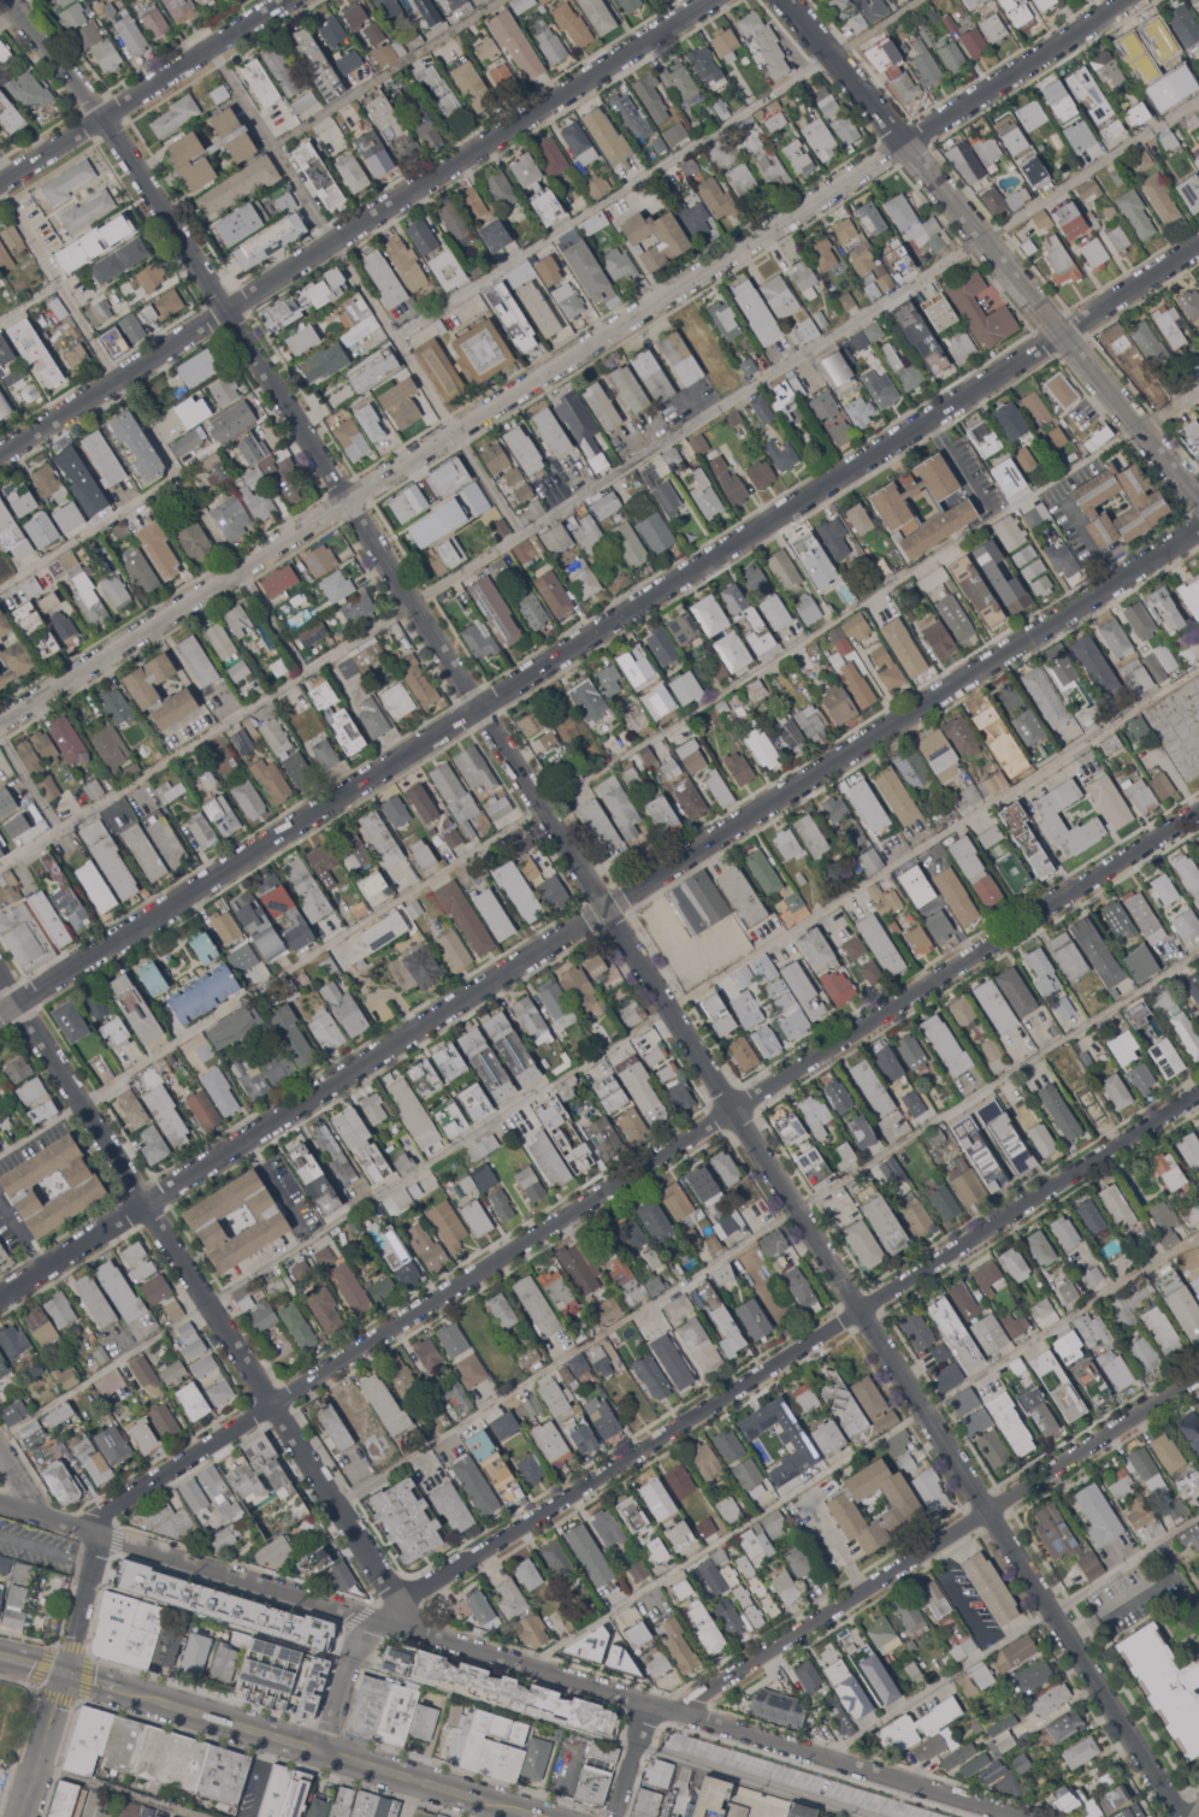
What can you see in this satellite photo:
building: (149, 0)
building: (541, 0)
building: (986, 0)
building: (206, 1)
building: (544, 1)
building: (858, 1)
building: (65, 2)
building: (418, 2)
building: (973, 2)
building: (1197, 2)
building: (631, 4)
building: (1046, 4)
building: (450, 5)
building: (520, 5)
building: (839, 5)
building: (469, 6)
building: (106, 8)
building: (182, 8)
building: (389, 8)
building: (876, 10)
road: (17, 11)
building: (1020, 12)
building: (355, 14)
building: (598, 14)
building: (72, 16)
building: (436, 18)
building: (154, 20)
building: (858, 22)
building: (950, 22)
building: (573, 24)
building: (1185, 25)
building: (994, 28)
building: (333, 30)
building: (131, 33)
building: (88, 34)
building: (465, 36)
building: (928, 36)
building: (1159, 37)
building: (974, 41)
building: (408, 42)
building: (515, 42)
building: (726, 42)
building: (766, 42)
building: (379, 45)
building: (551, 46)
building: (903, 47)
building: (485, 49)
building: (4, 52)
building: (107, 54)
building: (1133, 54)
building: (952, 55)
building: (745, 60)
building: (349, 61)
building: (317, 63)
building: (927, 64)
building: (1163, 64)
building: (1198, 64)
building: (707, 65)
building: (1106, 69)
building: (284, 70)
road: (384, 72)
building: (504, 78)
building: (680, 79)
building: (902, 81)
building: (260, 82)
building: (473, 85)
building: (1185, 85)
building: (26, 89)
road: (140, 89)
building: (438, 89)
building: (220, 93)
building: (1089, 94)
building: (651, 96)
building: (1061, 100)
building: (303, 101)
building: (1158, 101)
building: (720, 105)
building: (829, 105)
building: (708, 108)
building: (767, 110)
building: (417, 112)
building: (1198, 112)
building: (1032, 114)
building: (8, 116)
building: (176, 116)
building: (1136, 116)
building: (630, 117)
building: (1192, 119)
building: (774, 123)
building: (696, 124)
building: (390, 125)
building: (845, 128)
building: (674, 132)
building: (1106, 132)
building: (817, 135)
building: (1012, 136)
building: (608, 137)
building: (1082, 138)
building: (1166, 138)
building: (660, 143)
building: (579, 144)
building: (986, 147)
building: (209, 148)
building: (723, 151)
building: (761, 152)
building: (743, 153)
building: (373, 155)
building: (551, 157)
building: (797, 157)
building: (1144, 159)
building: (1198, 159)
building: (967, 161)
building: (689, 165)
road: (657, 169)
building: (526, 170)
building: (1034, 171)
building: (352, 172)
building: (317, 173)
building: (1120, 175)
building: (662, 177)
building: (742, 179)
building: (69, 181)
building: (238, 184)
building: (598, 185)
building: (501, 188)
building: (1088, 189)
building: (1191, 191)
building: (719, 197)
building: (1017, 197)
building: (1160, 197)
building: (994, 200)
building: (285, 201)
building: (473, 201)
building: (547, 206)
building: (87, 211)
building: (1110, 212)
building: (1135, 212)
building: (872, 217)
building: (453, 218)
building: (693, 218)
building: (240, 219)
building: (1043, 219)
building: (1069, 219)
building: (1093, 219)
building: (593, 222)
building: (915, 223)
building: (844, 229)
road: (359, 230)
building: (423, 236)
building: (496, 236)
building: (946, 237)
building: (13, 238)
building: (1118, 238)
building: (271, 240)
building: (674, 241)
building: (1029, 246)
road: (992, 249)
building: (81, 250)
building: (823, 253)
building: (1094, 253)
building: (5, 256)
building: (863, 259)
building: (119, 260)
building: (1061, 261)
building: (406, 262)
building: (900, 262)
building: (620, 264)
building: (476, 265)
building: (448, 269)
building: (548, 269)
building: (587, 270)
building: (519, 273)
building: (152, 276)
building: (884, 277)
building: (385, 278)
building: (804, 278)
road: (365, 289)
building: (873, 290)
building: (435, 291)
building: (858, 295)
building: (780, 296)
building: (494, 299)
building: (569, 299)
building: (14, 300)
building: (302, 300)
road: (30, 301)
building: (846, 301)
building: (1191, 303)
building: (163, 306)
building: (60, 308)
building: (539, 308)
building: (358, 309)
building: (939, 311)
building: (981, 311)
building: (99, 312)
building: (757, 312)
building: (821, 318)
building: (727, 321)
building: (1170, 323)
building: (441, 326)
building: (132, 328)
building: (805, 330)
building: (518, 331)
building: (874, 331)
building: (795, 335)
building: (302, 337)
building: (116, 341)
building: (862, 341)
building: (961, 344)
building: (1151, 344)
building: (35, 350)
building: (337, 350)
building: (1124, 353)
building: (77, 354)
building: (782, 354)
building: (463, 358)
building: (681, 358)
building: (4, 360)
road: (563, 361)
building: (937, 361)
building: (749, 366)
building: (296, 367)
building: (902, 367)
building: (199, 368)
building: (837, 370)
building: (374, 372)
building: (1193, 372)
building: (652, 376)
building: (1175, 383)
building: (798, 385)
building: (881, 387)
building: (630, 388)
building: (1152, 388)
building: (782, 389)
building: (1063, 389)
building: (225, 390)
building: (401, 402)
building: (5, 405)
building: (602, 406)
building: (825, 406)
building: (1035, 406)
road: (1169, 407)
building: (763, 408)
building: (193, 411)
building: (784, 412)
building: (861, 412)
building: (734, 418)
building: (1064, 420)
building: (232, 421)
building: (370, 421)
building: (1010, 421)
building: (581, 427)
road: (149, 431)
building: (551, 431)
building: (841, 432)
building: (986, 433)
building: (1058, 437)
building: (1098, 437)
building: (1191, 437)
building: (353, 439)
building: (615, 439)
building: (187, 442)
building: (699, 444)
building: (135, 447)
building: (253, 448)
building: (524, 449)
building: (1083, 449)
building: (780, 452)
building: (1073, 455)
building: (673, 456)
building: (104, 458)
building: (495, 458)
building: (1026, 458)
road: (956, 462)
building: (268, 464)
building: (1047, 467)
building: (217, 468)
building: (761, 473)
building: (999, 473)
building: (513, 474)
building: (289, 479)
building: (728, 480)
building: (81, 482)
building: (49, 483)
road: (599, 483)
building: (662, 485)
building: (229, 488)
building: (211, 489)
building: (430, 489)
building: (524, 491)
building: (914, 491)
building: (175, 492)
building: (258, 494)
building: (707, 494)
building: (476, 496)
building: (20, 497)
building: (164, 503)
building: (463, 503)
building: (607, 505)
building: (1151, 506)
building: (583, 509)
building: (531, 511)
building: (67, 515)
building: (1036, 515)
building: (231, 517)
building: (860, 518)
building: (438, 523)
building: (501, 527)
building: (935, 527)
building: (42, 529)
building: (122, 530)
building: (657, 531)
building: (1010, 531)
building: (12, 532)
road: (89, 532)
building: (190, 535)
building: (590, 535)
building: (834, 536)
building: (557, 538)
building: (630, 543)
building: (537, 544)
road: (1088, 544)
building: (159, 548)
building: (525, 551)
building: (447, 555)
building: (1024, 555)
building: (320, 559)
building: (815, 559)
building: (1063, 560)
building: (64, 564)
building: (4, 565)
building: (498, 567)
building: (141, 568)
building: (1034, 568)
building: (785, 570)
building: (581, 576)
building: (933, 579)
building: (280, 580)
building: (757, 580)
building: (34, 585)
building: (338, 585)
building: (1043, 585)
building: (117, 590)
building: (975, 591)
building: (554, 592)
building: (1014, 592)
building: (88, 595)
building: (1191, 596)
building: (737, 597)
building: (49, 601)
building: (360, 607)
building: (531, 607)
building: (808, 608)
building: (1166, 608)
building: (495, 609)
building: (775, 610)
building: (711, 614)
building: (909, 614)
building: (28, 618)
building: (955, 618)
building: (240, 619)
building: (1140, 619)
building: (5, 624)
building: (65, 626)
road: (598, 626)
building: (857, 626)
building: (684, 627)
building: (313, 633)
building: (939, 637)
building: (1116, 637)
building: (480, 639)
building: (222, 641)
building: (46, 644)
building: (662, 644)
building: (408, 645)
building: (904, 647)
building: (731, 650)
building: (367, 655)
building: (1165, 656)
building: (14, 659)
building: (199, 660)
building: (1151, 661)
building: (633, 663)
building: (278, 666)
building: (349, 667)
building: (850, 668)
building: (888, 668)
building: (238, 669)
building: (720, 669)
building: (1063, 669)
building: (1099, 672)
building: (1136, 676)
building: (418, 679)
building: (609, 679)
building: (685, 686)
building: (144, 691)
building: (320, 691)
building: (1010, 696)
building: (1046, 697)
building: (587, 698)
building: (398, 701)
building: (839, 703)
building: (117, 706)
building: (722, 707)
building: (632, 708)
road: (1169, 712)
building: (1089, 714)
building: (374, 718)
building: (987, 720)
building: (533, 721)
building: (811, 721)
building: (1028, 726)
building: (1139, 726)
building: (348, 732)
building: (790, 733)
building: (962, 735)
building: (276, 736)
building: (67, 738)
building: (549, 739)
building: (243, 741)
building: (108, 743)
building: (1112, 743)
building: (762, 745)
building: (46, 747)
building: (1043, 750)
building: (143, 751)
building: (326, 753)
building: (939, 754)
building: (648, 755)
building: (692, 755)
building: (29, 756)
building: (1017, 762)
building: (911, 766)
building: (297, 767)
building: (476, 767)
building: (739, 767)
building: (132, 768)
building: (672, 768)
building: (632, 773)
building: (207, 778)
building: (272, 779)
road: (29, 781)
building: (992, 783)
building: (48, 785)
building: (1163, 785)
building: (94, 789)
building: (720, 789)
building: (171, 790)
road: (569, 790)
building: (897, 794)
building: (1140, 794)
building: (455, 795)
building: (691, 797)
building: (967, 797)
building: (249, 798)
building: (6, 801)
building: (424, 802)
building: (869, 804)
building: (619, 806)
building: (498, 807)
building: (837, 809)
building: (397, 812)
building: (946, 812)
building: (1118, 813)
building: (222, 814)
building: (663, 814)
building: (24, 820)
building: (448, 821)
building: (599, 825)
building: (202, 830)
building: (856, 833)
building: (811, 834)
building: (991, 836)
building: (382, 837)
building: (166, 838)
building: (454, 838)
building: (1026, 838)
building: (1, 839)
building: (0, 842)
building: (787, 843)
building: (521, 844)
building: (1198, 845)
building: (352, 848)
building: (2, 849)
building: (144, 851)
building: (421, 856)
building: (110, 859)
building: (323, 859)
building: (872, 860)
building: (528, 866)
building: (912, 869)
building: (764, 871)
building: (975, 871)
road: (1058, 871)
building: (1014, 872)
building: (1188, 873)
building: (840, 875)
building: (802, 878)
building: (373, 885)
building: (96, 886)
building: (8, 889)
building: (308, 889)
building: (1164, 889)
building: (61, 890)
building: (519, 890)
building: (553, 892)
building: (956, 896)
building: (742, 897)
building: (886, 899)
building: (795, 901)
building: (699, 902)
road: (602, 903)
building: (933, 903)
building: (0, 908)
building: (415, 908)
building: (360, 909)
road: (598, 909)
building: (285, 910)
building: (494, 914)
building: (465, 915)
building: (1144, 915)
building: (51, 918)
building: (1117, 919)
building: (1186, 924)
building: (226, 925)
building: (327, 925)
building: (939, 925)
building: (259, 926)
building: (894, 926)
building: (384, 930)
building: (25, 937)
building: (919, 940)
building: (202, 944)
building: (880, 944)
building: (454, 948)
building: (816, 948)
building: (854, 948)
building: (1098, 951)
building: (358, 955)
building: (1069, 955)
building: (238, 957)
building: (1141, 962)
building: (329, 966)
building: (424, 967)
building: (597, 967)
building: (764, 968)
building: (1044, 971)
building: (872, 972)
building: (748, 973)
building: (152, 977)
building: (740, 977)
building: (1193, 985)
building: (838, 986)
building: (291, 990)
building: (581, 990)
building: (803, 990)
building: (202, 991)
building: (1017, 991)
building: (1114, 993)
building: (1163, 1001)
building: (557, 1002)
building: (95, 1003)
building: (996, 1005)
building: (1064, 1005)
building: (135, 1008)
building: (785, 1008)
building: (347, 1009)
building: (746, 1009)
building: (962, 1010)
building: (631, 1013)
building: (719, 1014)
building: (247, 1017)
building: (1135, 1019)
building: (71, 1020)
building: (533, 1021)
building: (326, 1030)
building: (1056, 1030)
building: (117, 1032)
building: (224, 1032)
building: (1187, 1033)
building: (291, 1036)
building: (766, 1040)
building: (946, 1045)
building: (1123, 1046)
building: (512, 1048)
building: (992, 1048)
building: (205, 1050)
building: (911, 1051)
building: (744, 1052)
road: (601, 1055)
building: (656, 1055)
building: (1087, 1057)
building: (1166, 1057)
building: (450, 1061)
building: (488, 1063)
building: (888, 1063)
building: (163, 1066)
building: (279, 1066)
building: (18, 1070)
building: (667, 1072)
building: (1073, 1072)
building: (250, 1075)
building: (425, 1076)
building: (1141, 1078)
building: (1, 1085)
building: (567, 1086)
road: (70, 1087)
building: (873, 1087)
building: (642, 1089)
building: (220, 1090)
building: (31, 1091)
building: (1117, 1091)
building: (610, 1092)
building: (680, 1095)
building: (838, 1095)
building: (474, 1099)
building: (914, 1102)
building: (1092, 1103)
building: (132, 1107)
building: (373, 1107)
building: (203, 1108)
building: (42, 1110)
building: (1059, 1110)
building: (414, 1114)
building: (167, 1115)
building: (816, 1115)
building: (450, 1116)
building: (557, 1122)
building: (633, 1123)
building: (1198, 1125)
building: (790, 1126)
building: (862, 1131)
building: (1006, 1134)
building: (604, 1137)
building: (937, 1137)
building: (1040, 1138)
building: (361, 1143)
building: (154, 1144)
building: (484, 1146)
building: (1189, 1149)
building: (294, 1151)
building: (333, 1151)
building: (980, 1152)
building: (577, 1155)
building: (844, 1155)
building: (549, 1157)
building: (402, 1160)
building: (726, 1167)
building: (893, 1169)
building: (1168, 1169)
building: (825, 1170)
building: (485, 1176)
building: (311, 1178)
building: (967, 1181)
building: (467, 1182)
building: (531, 1182)
building: (1198, 1182)
building: (18, 1184)
building: (705, 1186)
building: (415, 1188)
building: (459, 1190)
building: (397, 1200)
building: (677, 1200)
building: (324, 1202)
building: (945, 1202)
building: (502, 1204)
road: (583, 1205)
building: (1118, 1207)
building: (1192, 1213)
building: (1091, 1215)
building: (1163, 1215)
building: (881, 1216)
building: (919, 1216)
building: (477, 1217)
building: (657, 1222)
road: (835, 1222)
building: (271, 1223)
building: (448, 1223)
building: (356, 1225)
road: (768, 1226)
building: (730, 1227)
building: (1065, 1232)
road: (20, 1233)
building: (636, 1234)
building: (693, 1238)
building: (1170, 1240)
building: (775, 1241)
building: (715, 1243)
building: (863, 1243)
building: (1040, 1247)
building: (429, 1249)
building: (2, 1252)
building: (135, 1252)
building: (326, 1255)
building: (1117, 1255)
building: (655, 1257)
building: (1016, 1263)
building: (403, 1267)
building: (581, 1268)
building: (143, 1269)
building: (302, 1269)
building: (722, 1274)
building: (1093, 1275)
building: (990, 1276)
building: (627, 1281)
building: (656, 1284)
building: (280, 1285)
building: (1195, 1285)
building: (801, 1286)
building: (352, 1287)
building: (556, 1287)
building: (156, 1288)
building: (384, 1290)
building: (120, 1291)
building: (1069, 1291)
building: (1138, 1292)
building: (246, 1294)
building: (95, 1299)
building: (964, 1300)
building: (1180, 1303)
building: (537, 1305)
building: (679, 1305)
building: (60, 1309)
building: (502, 1309)
building: (607, 1309)
building: (175, 1310)
building: (326, 1310)
building: (1046, 1311)
building: (262, 1316)
building: (1124, 1316)
building: (754, 1317)
building: (720, 1320)
building: (589, 1323)
building: (1015, 1323)
building: (299, 1325)
building: (41, 1326)
building: (280, 1326)
building: (1092, 1327)
building: (917, 1331)
building: (1163, 1332)
building: (990, 1333)
building: (956, 1334)
building: (454, 1339)
building: (13, 1340)
building: (191, 1340)
building: (701, 1344)
road: (799, 1346)
building: (1069, 1346)
building: (612, 1349)
building: (427, 1352)
building: (940, 1352)
building: (1145, 1352)
building: (101, 1355)
building: (527, 1356)
building: (602, 1359)
building: (673, 1361)
building: (4, 1364)
building: (205, 1365)
building: (580, 1367)
building: (1116, 1368)
building: (144, 1370)
building: (472, 1370)
building: (173, 1371)
building: (567, 1373)
building: (400, 1374)
building: (652, 1375)
building: (949, 1376)
building: (66, 1378)
building: (1093, 1385)
building: (40, 1386)
building: (58, 1388)
building: (220, 1391)
building: (554, 1392)
building: (438, 1393)
building: (459, 1396)
building: (1064, 1397)
building: (805, 1398)
building: (194, 1400)
road: (273, 1400)
building: (963, 1400)
building: (875, 1403)
building: (385, 1404)
building: (844, 1404)
building: (533, 1405)
building: (14, 1411)
building: (1039, 1411)
building: (520, 1412)
building: (1198, 1412)
building: (59, 1414)
building: (603, 1417)
building: (361, 1418)
building: (165, 1420)
building: (977, 1421)
building: (1011, 1421)
building: (504, 1424)
building: (336, 1427)
building: (1191, 1429)
building: (33, 1432)
building: (581, 1433)
building: (144, 1435)
building: (829, 1437)
building: (752, 1439)
building: (551, 1443)
building: (898, 1443)
building: (114, 1444)
building: (730, 1445)
road: (862, 1447)
building: (994, 1447)
building: (1168, 1452)
building: (90, 1456)
building: (705, 1459)
building: (384, 1461)
building: (906, 1462)
building: (494, 1465)
building: (531, 1468)
building: (259, 1470)
building: (1146, 1470)
building: (779, 1473)
building: (750, 1476)
building: (213, 1480)
building: (680, 1480)
road: (19, 1481)
building: (1120, 1481)
building: (63, 1482)
building: (1189, 1483)
building: (476, 1485)
building: (931, 1489)
building: (195, 1497)
building: (656, 1497)
building: (453, 1505)
building: (840, 1505)
building: (730, 1509)
building: (1176, 1509)
building: (230, 1510)
building: (1139, 1511)
building: (631, 1514)
building: (1098, 1515)
building: (169, 1518)
building: (407, 1520)
building: (243, 1521)
building: (774, 1522)
building: (651, 1526)
building: (608, 1527)
building: (707, 1527)
building: (1154, 1528)
building: (680, 1534)
building: (1189, 1535)
building: (224, 1538)
road: (939, 1539)
building: (1065, 1540)
building: (757, 1542)
road: (835, 1544)
building: (657, 1548)
building: (274, 1551)
building: (590, 1555)
building: (555, 1556)
building: (720, 1556)
building: (314, 1562)
building: (5, 1563)
building: (745, 1565)
building: (803, 1565)
building: (638, 1569)
building: (23, 1573)
building: (528, 1573)
building: (731, 1575)
building: (342, 1576)
building: (713, 1576)
building: (758, 1585)
building: (786, 1587)
building: (992, 1587)
building: (680, 1589)
building: (1, 1594)
building: (743, 1594)
building: (17, 1595)
building: (510, 1598)
building: (935, 1599)
building: (224, 1605)
building: (770, 1605)
building: (474, 1610)
road: (391, 1611)
building: (909, 1612)
building: (756, 1615)
building: (730, 1616)
building: (14, 1617)
building: (116, 1624)
building: (705, 1626)
building: (532, 1630)
building: (638, 1633)
building: (143, 1634)
building: (884, 1634)
road: (1012, 1634)
building: (172, 1640)
building: (678, 1644)
building: (912, 1644)
building: (962, 1648)
building: (602, 1650)
building: (196, 1653)
building: (1015, 1653)
building: (616, 1654)
road: (513, 1658)
building: (886, 1659)
road: (33, 1662)
building: (225, 1662)
building: (660, 1663)
building: (835, 1663)
building: (914, 1670)
building: (874, 1674)
building: (278, 1675)
building: (982, 1675)
building: (808, 1676)
road: (93, 1679)
road: (343, 1681)
building: (1028, 1681)
building: (1165, 1683)
building: (969, 1687)
building: (498, 1688)
building: (1052, 1698)
building: (828, 1701)
building: (370, 1706)
building: (778, 1706)
building: (867, 1711)
building: (454, 1712)
building: (397, 1715)
building: (843, 1721)
building: (425, 1722)
building: (990, 1722)
building: (919, 1724)
building: (1000, 1724)
building: (1065, 1725)
building: (976, 1727)
building: (556, 1733)
building: (89, 1739)
building: (461, 1740)
road: (41, 1742)
building: (124, 1744)
building: (938, 1744)
building: (1006, 1744)
building: (496, 1745)
road: (321, 1748)
building: (994, 1748)
building: (603, 1750)
building: (1081, 1752)
building: (539, 1754)
building: (958, 1754)
building: (171, 1758)
road: (631, 1758)
building: (1021, 1763)
building: (973, 1765)
building: (992, 1771)
building: (660, 1772)
building: (224, 1775)
road: (761, 1778)
building: (1108, 1778)
building: (1010, 1783)
building: (592, 1786)
road: (117, 1792)
building: (284, 1793)
building: (1115, 1797)
road: (411, 1798)
building: (713, 1798)
building: (1068, 1799)
building: (69, 1800)
building: (343, 1801)
building: (646, 1804)
building: (318, 1805)
building: (374, 1806)
building: (131, 1810)
building: (737, 1810)
building: (1088, 1810)
building: (148, 1811)
building: (801, 1811)
building: (1130, 1811)
road: (1195, 1812)
building: (423, 1813)
road: (530, 1815)
building: (158, 1816)
building: (172, 1816)
building: (439, 1816)

